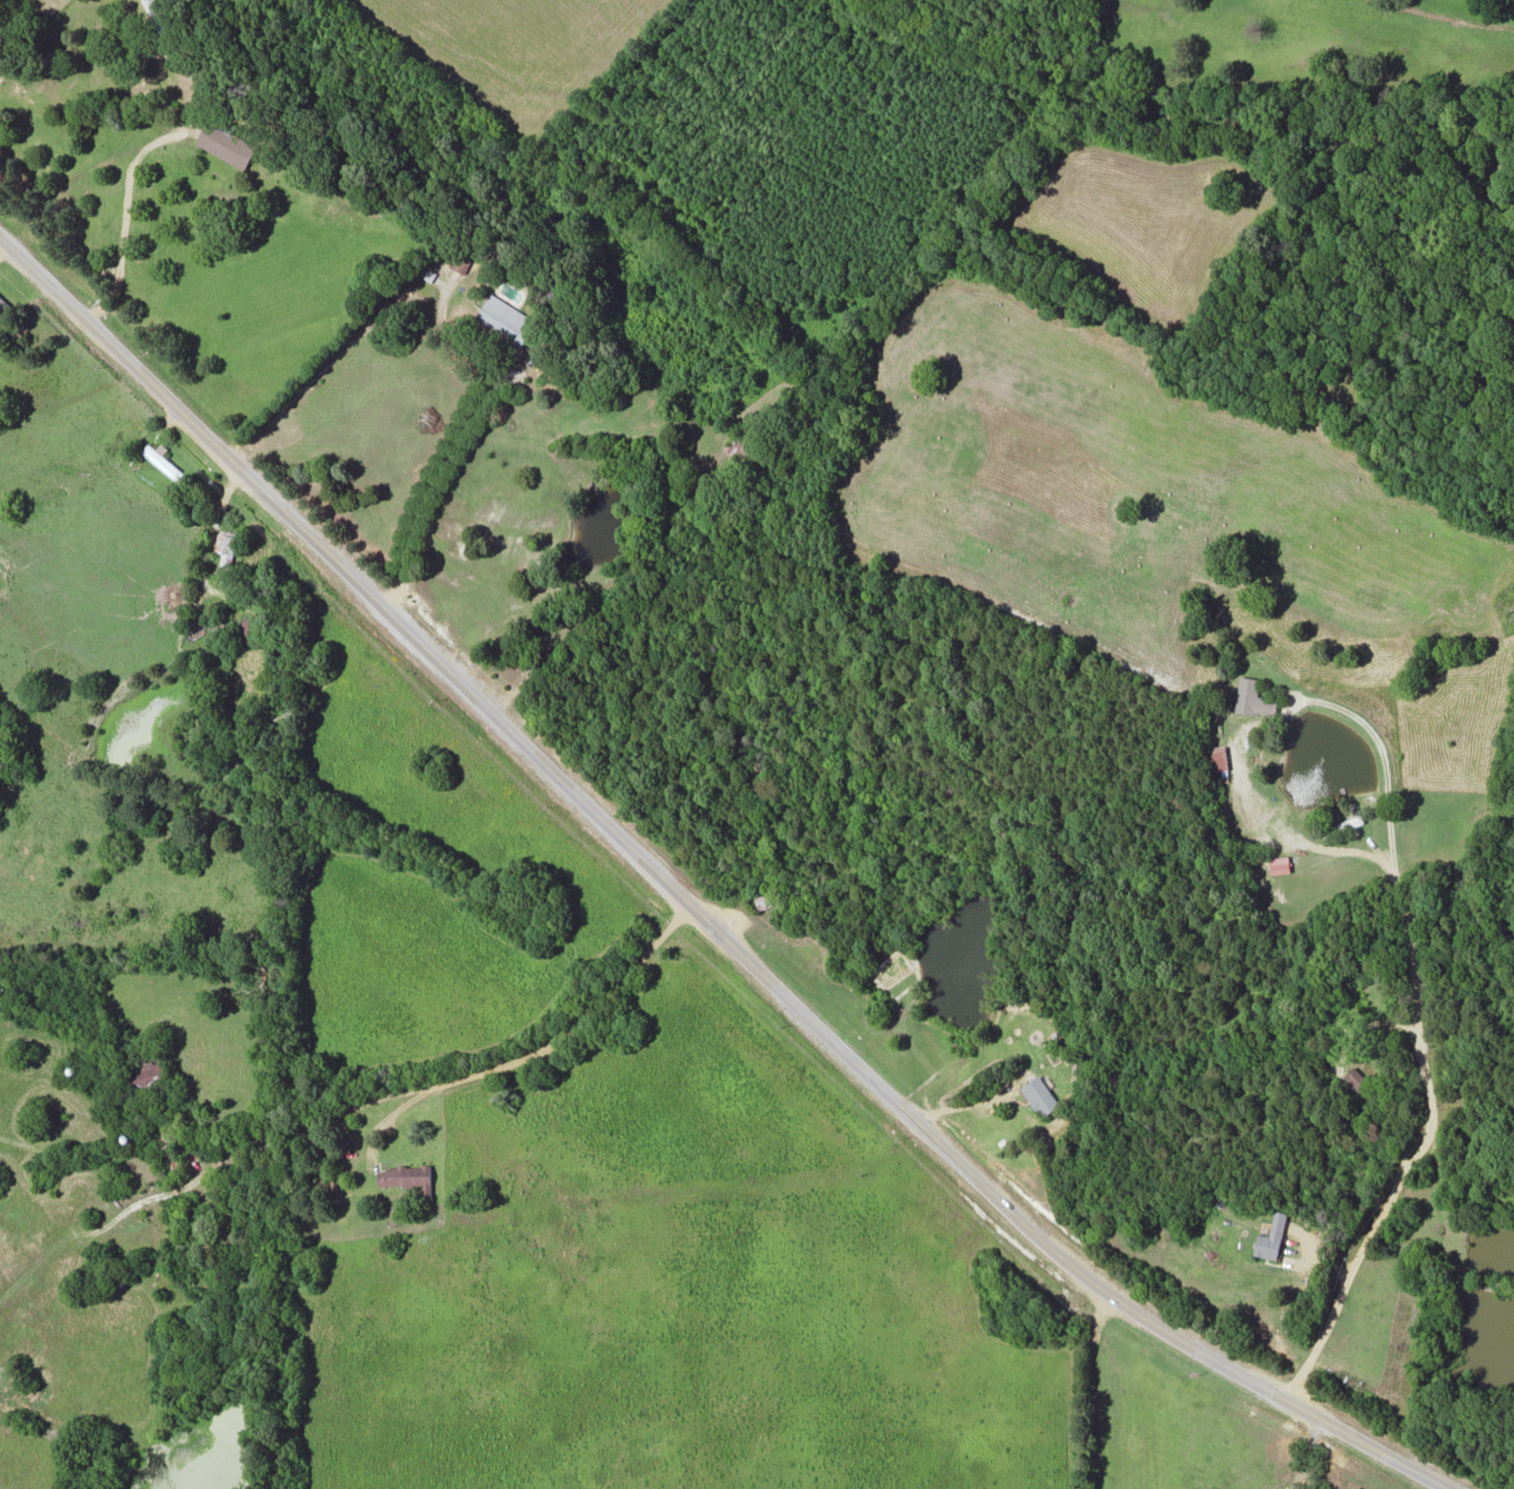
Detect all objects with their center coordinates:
building: (225, 143)
road: (84, 170)
building: (460, 259)
building: (503, 318)
building: (740, 445)
building: (162, 462)
road: (434, 475)
building: (224, 546)
building: (246, 628)
building: (1253, 696)
building: (1218, 757)
building: (768, 898)
road: (691, 906)
road: (1417, 1032)
road: (540, 1048)
building: (147, 1074)
building: (1356, 1079)
building: (1039, 1095)
building: (406, 1175)
building: (1271, 1236)
building: (1125, 1438)

